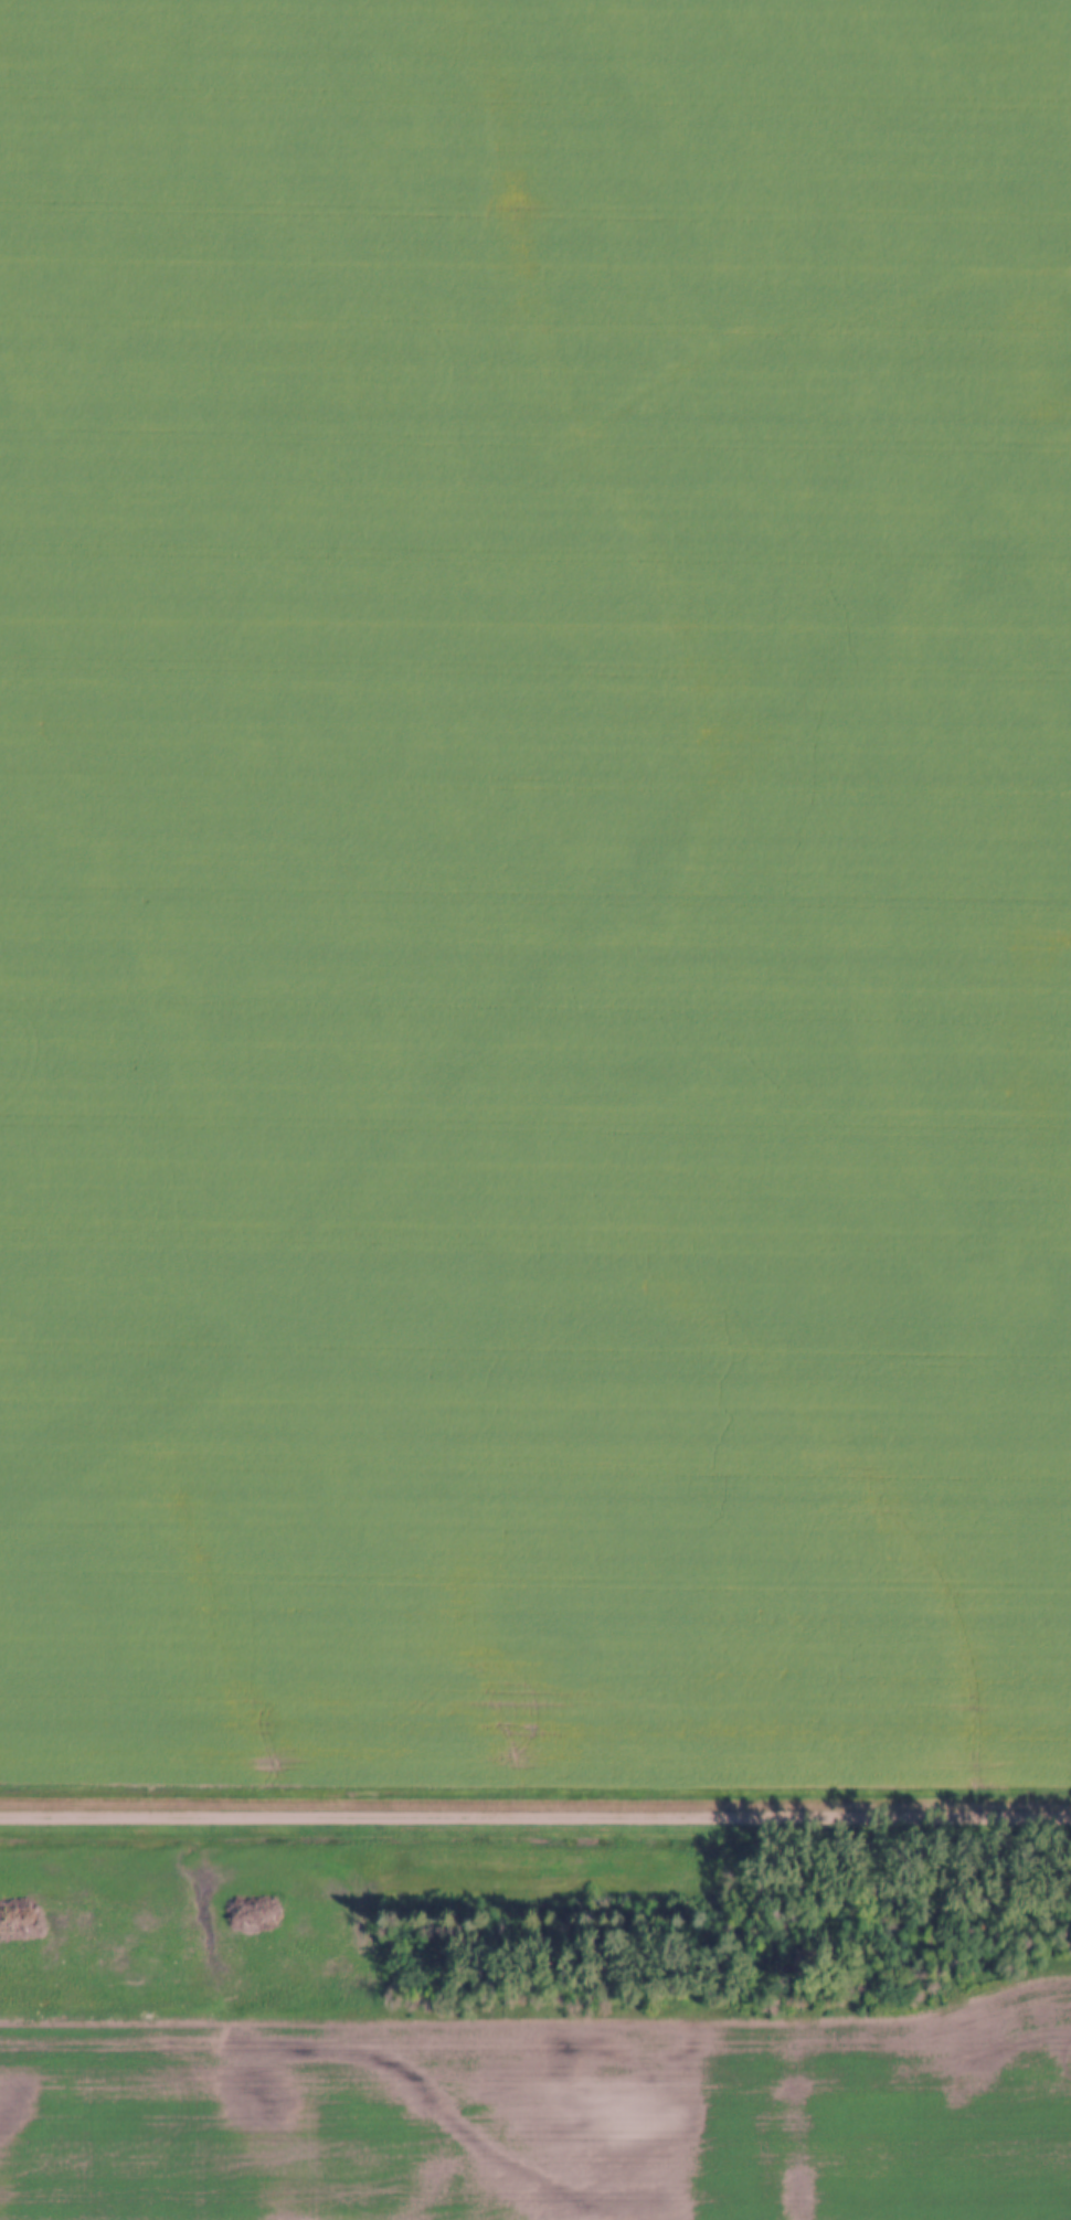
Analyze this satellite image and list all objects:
road: (535, 1819)

